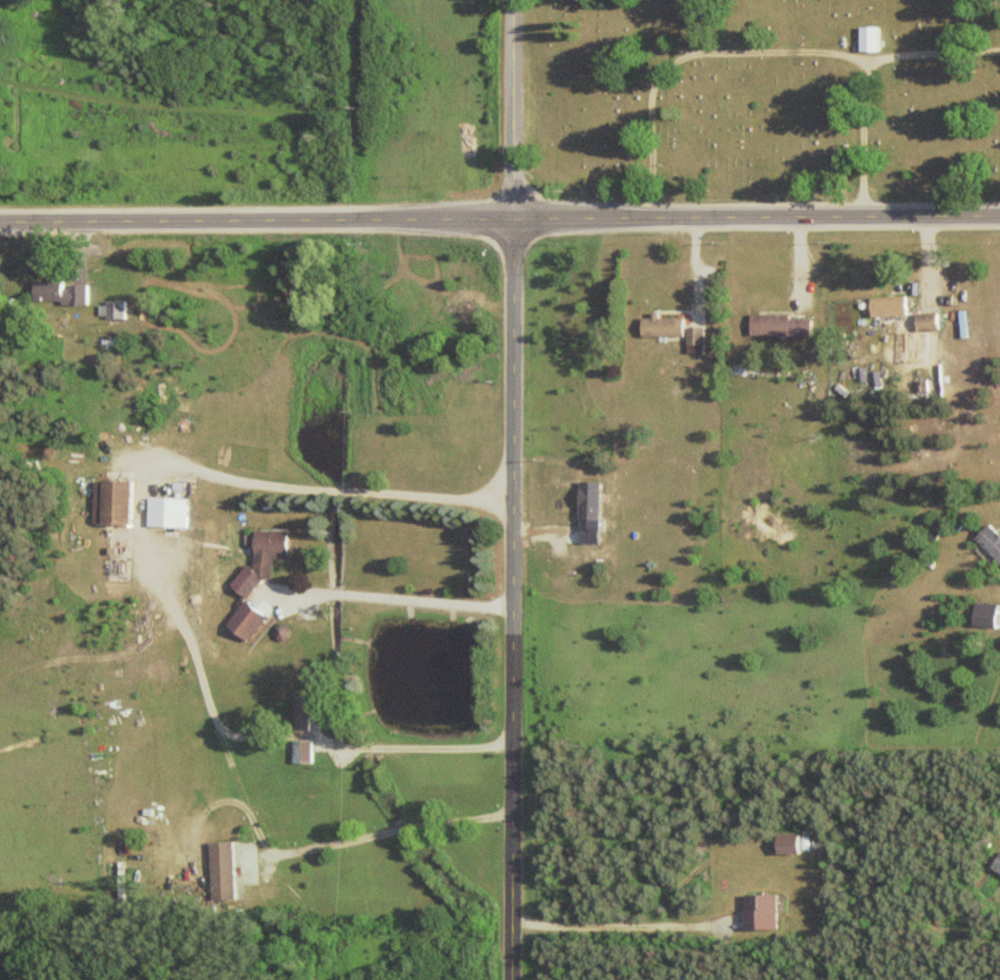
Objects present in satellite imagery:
building: (876, 39)
building: (0, 40)
road: (751, 51)
park: (766, 93)
road: (864, 137)
road: (500, 225)
building: (64, 293)
building: (894, 307)
building: (118, 310)
building: (932, 322)
building: (784, 326)
building: (668, 328)
road: (327, 489)
road: (509, 490)
building: (117, 503)
building: (172, 513)
building: (988, 542)
building: (270, 558)
road: (398, 597)
building: (984, 615)
building: (252, 619)
building: (307, 705)
road: (413, 746)
road: (252, 818)
building: (783, 844)
building: (995, 863)
building: (229, 872)
building: (757, 912)
road: (616, 925)

